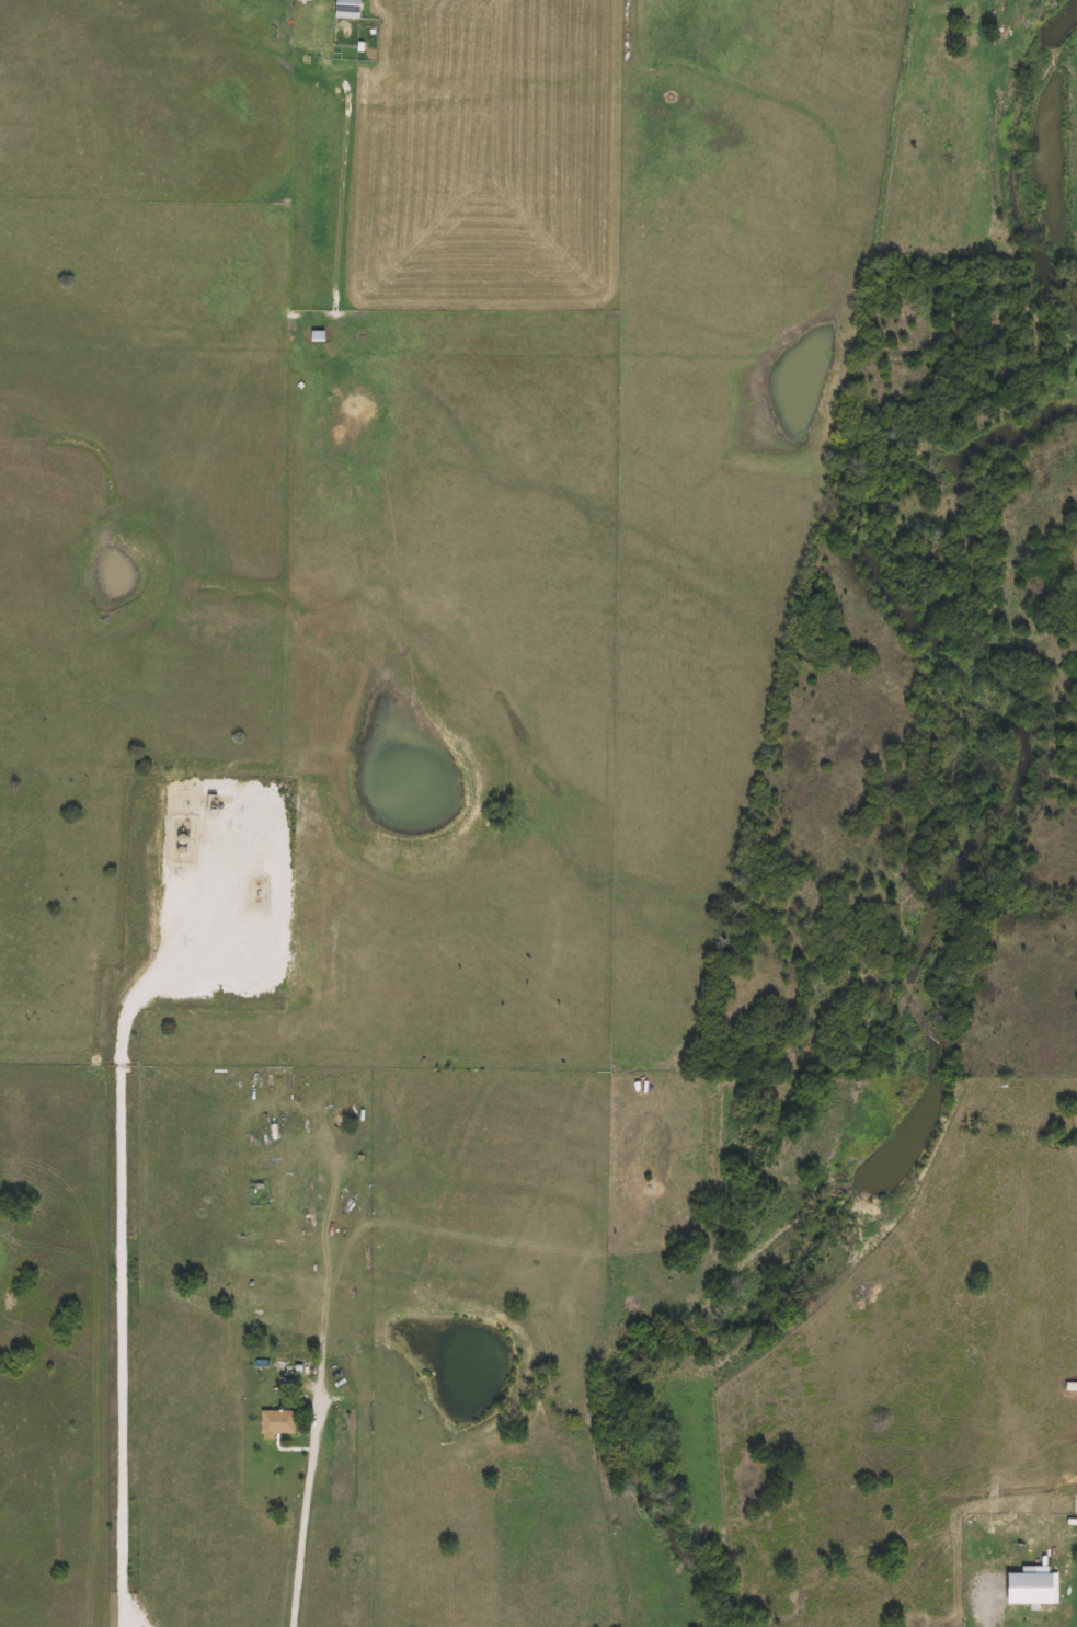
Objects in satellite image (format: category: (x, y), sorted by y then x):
building: (305, 0)
building: (350, 9)
building: (306, 1195)
building: (278, 1423)
road: (309, 1512)
building: (1026, 1586)

